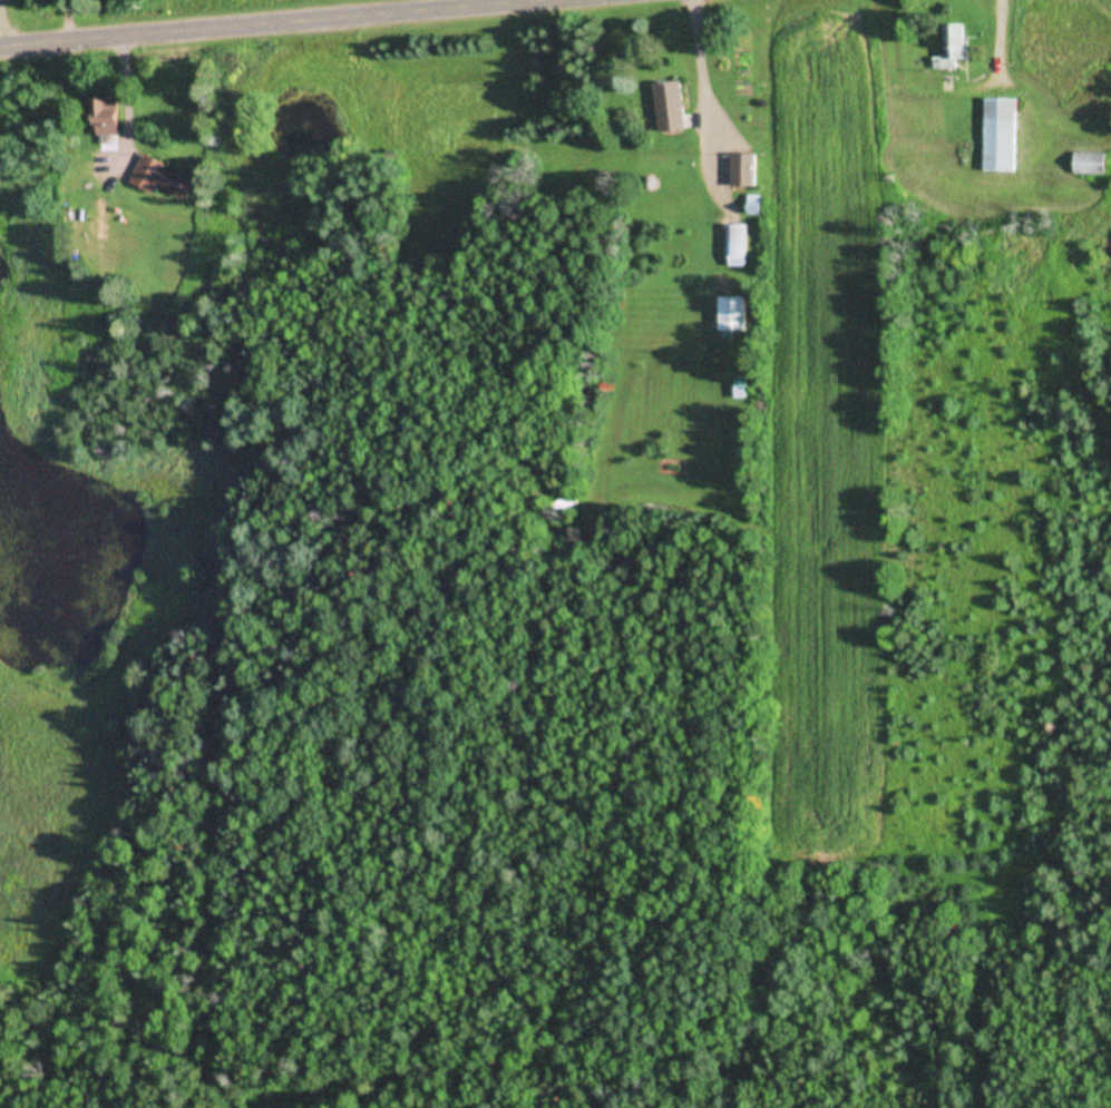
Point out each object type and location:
road: (299, 24)
building: (951, 49)
building: (664, 107)
building: (111, 115)
building: (996, 135)
building: (1085, 164)
building: (738, 170)
building: (165, 177)
building: (749, 205)
building: (733, 243)
building: (728, 315)
building: (737, 390)

